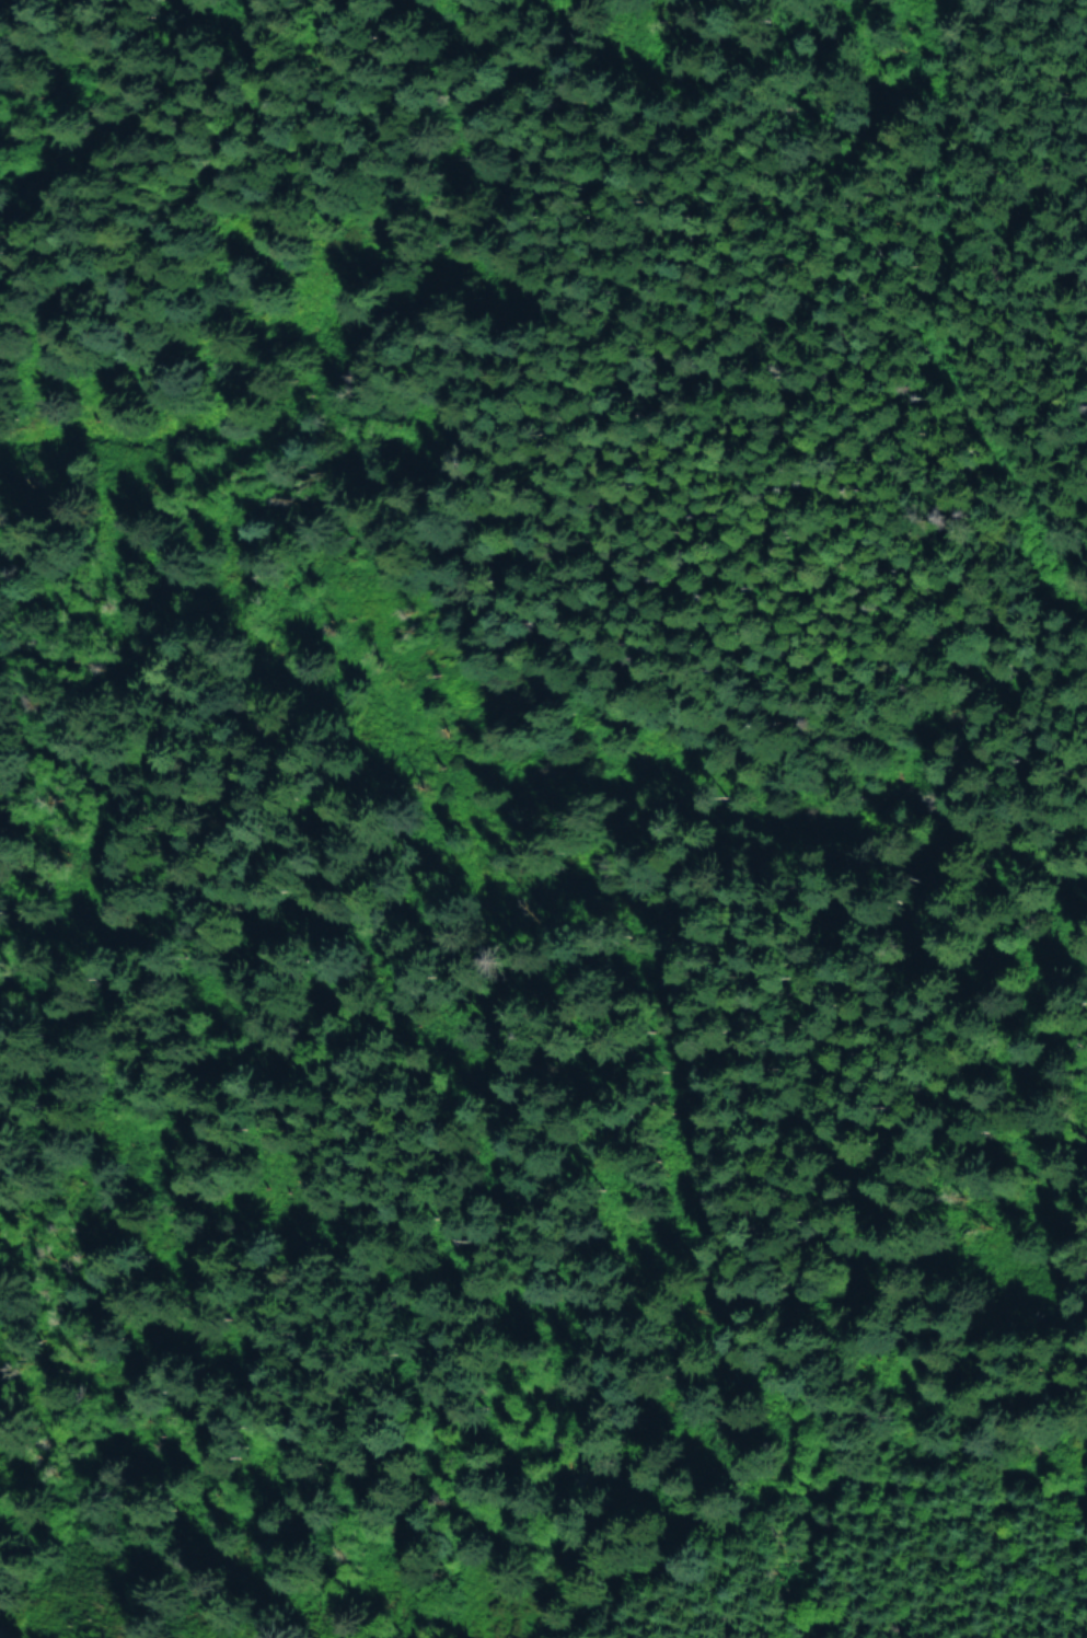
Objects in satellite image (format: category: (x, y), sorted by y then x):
road: (947, 320)

